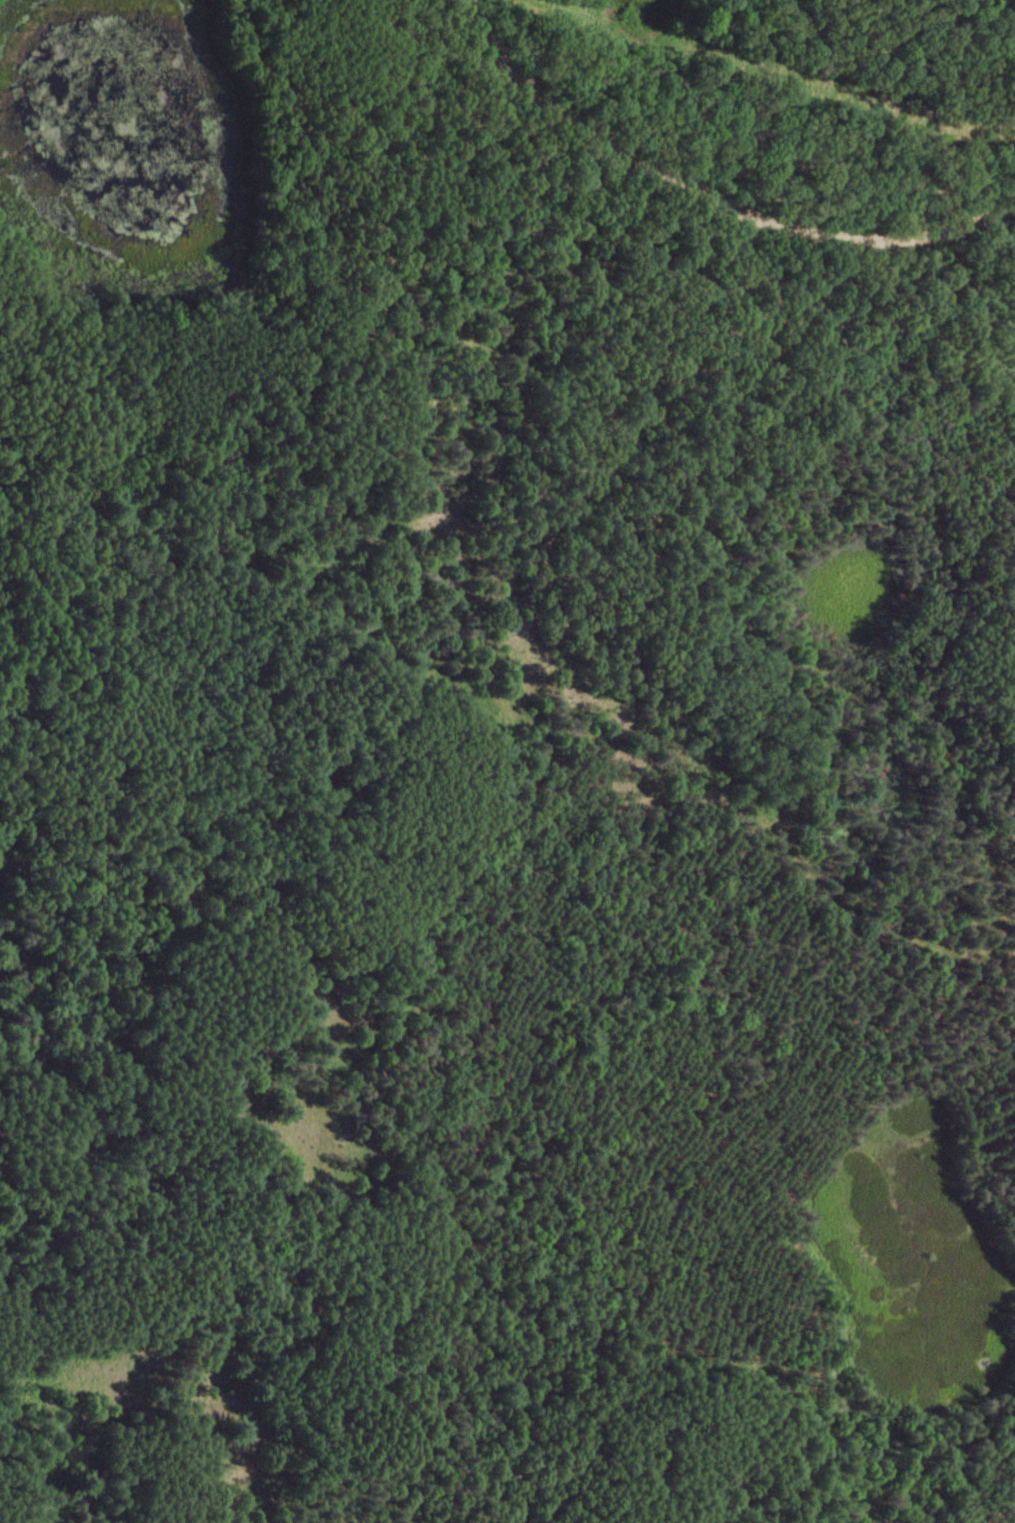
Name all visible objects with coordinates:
road: (710, 198)
road: (483, 552)

